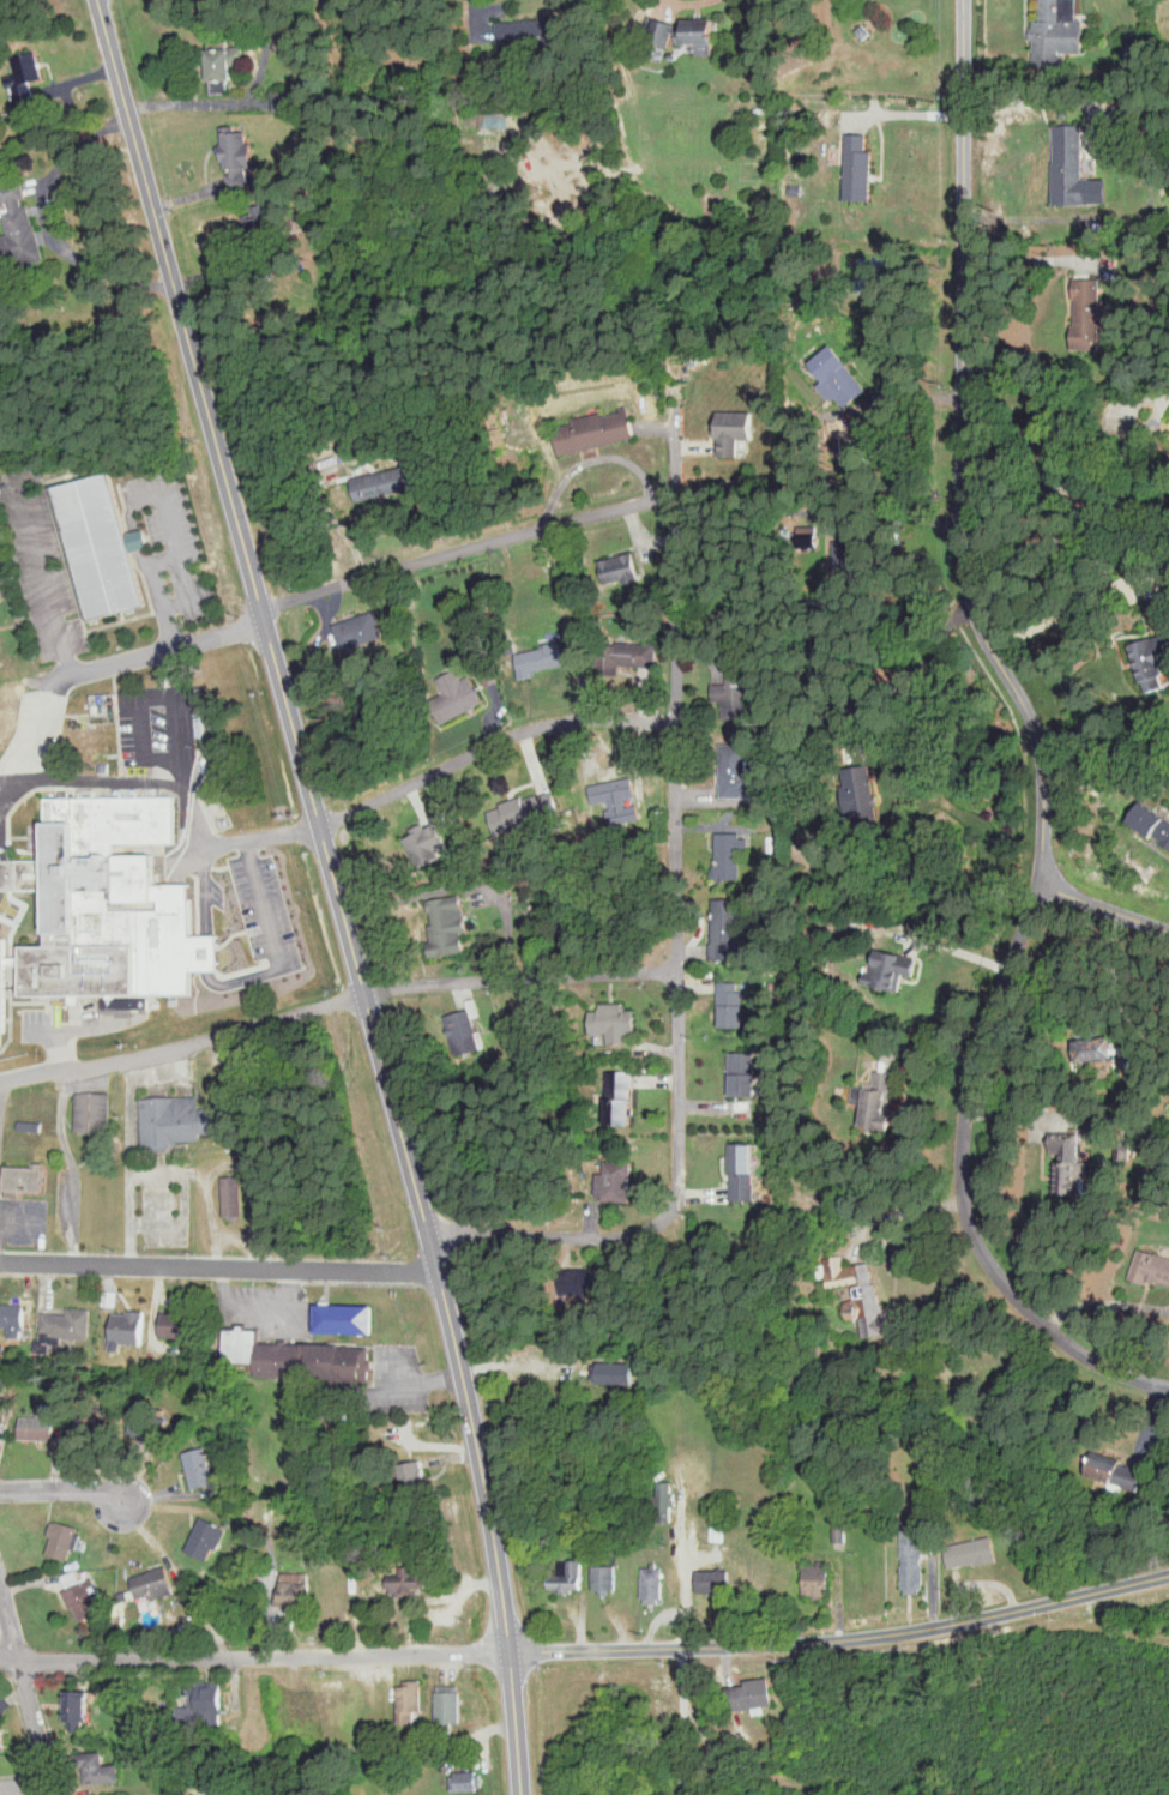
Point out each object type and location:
building: (1056, 10)
building: (664, 31)
building: (858, 31)
building: (536, 32)
building: (701, 32)
building: (1052, 41)
building: (1133, 56)
building: (228, 64)
building: (26, 79)
road: (1048, 98)
building: (285, 102)
road: (241, 103)
building: (493, 120)
building: (240, 150)
building: (1065, 167)
building: (862, 176)
building: (14, 194)
building: (19, 219)
building: (264, 237)
building: (20, 248)
road: (1038, 258)
building: (1083, 315)
building: (834, 378)
building: (590, 429)
building: (740, 436)
road: (960, 453)
building: (385, 482)
road: (1077, 488)
road: (133, 518)
building: (103, 534)
road: (469, 546)
building: (623, 568)
road: (44, 573)
road: (187, 601)
road: (1063, 612)
building: (361, 628)
road: (156, 651)
building: (640, 653)
road: (878, 657)
building: (541, 658)
building: (1153, 667)
building: (736, 693)
building: (457, 694)
road: (158, 698)
road: (38, 734)
building: (92, 740)
road: (492, 746)
building: (742, 772)
road: (10, 781)
road: (102, 781)
building: (615, 789)
road: (10, 791)
building: (864, 793)
building: (528, 811)
road: (677, 819)
building: (1145, 820)
building: (135, 821)
road: (223, 842)
building: (428, 843)
building: (731, 855)
building: (25, 874)
building: (76, 874)
building: (140, 878)
road: (338, 891)
building: (112, 898)
road: (1104, 909)
building: (729, 921)
building: (450, 926)
building: (151, 936)
building: (65, 938)
building: (209, 952)
building: (723, 952)
building: (18, 960)
building: (85, 969)
building: (892, 970)
road: (520, 976)
road: (251, 977)
building: (4, 990)
building: (735, 1005)
building: (615, 1020)
building: (466, 1031)
road: (185, 1046)
building: (1087, 1049)
building: (1128, 1056)
building: (745, 1064)
building: (777, 1065)
building: (748, 1085)
building: (878, 1097)
building: (623, 1098)
building: (94, 1110)
building: (174, 1122)
building: (1099, 1132)
building: (746, 1158)
road: (131, 1161)
building: (1065, 1164)
road: (71, 1165)
building: (25, 1181)
building: (619, 1181)
road: (962, 1185)
building: (747, 1187)
building: (234, 1197)
road: (186, 1199)
building: (770, 1215)
road: (552, 1235)
road: (218, 1266)
building: (1150, 1271)
building: (846, 1272)
building: (583, 1281)
road: (257, 1303)
road: (1103, 1303)
building: (874, 1313)
building: (13, 1319)
building: (348, 1320)
building: (70, 1326)
building: (182, 1326)
building: (131, 1327)
building: (44, 1345)
building: (245, 1347)
building: (283, 1361)
building: (338, 1363)
building: (529, 1363)
building: (0, 1417)
building: (150, 1427)
building: (40, 1428)
building: (89, 1433)
building: (200, 1465)
building: (1110, 1472)
building: (417, 1480)
road: (62, 1490)
building: (668, 1499)
building: (843, 1530)
building: (719, 1531)
building: (209, 1538)
building: (64, 1540)
building: (977, 1549)
building: (916, 1558)
building: (570, 1574)
building: (607, 1576)
building: (820, 1578)
building: (412, 1579)
building: (716, 1579)
building: (655, 1583)
building: (155, 1585)
building: (297, 1590)
building: (83, 1595)
road: (8, 1628)
road: (587, 1646)
building: (754, 1693)
building: (411, 1699)
building: (209, 1700)
building: (664, 1701)
building: (5, 1704)
building: (78, 1706)
building: (451, 1706)
building: (313, 1710)
building: (186, 1711)
road: (683, 1719)
road: (36, 1727)
building: (4, 1739)
building: (100, 1767)
building: (468, 1779)
road: (25, 1784)
building: (856, 1790)
building: (200, 1794)

